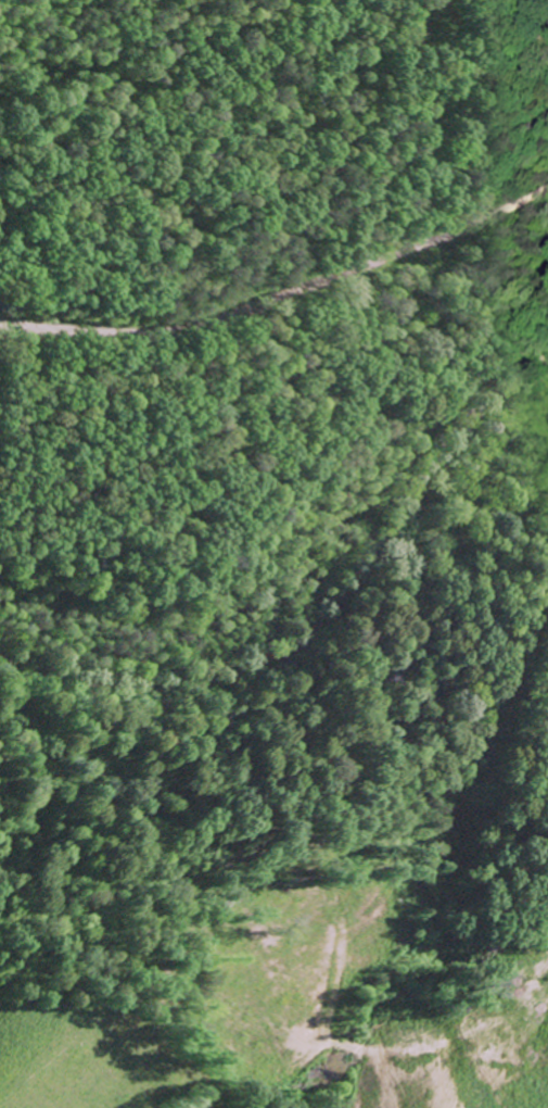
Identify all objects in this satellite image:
road: (281, 287)

